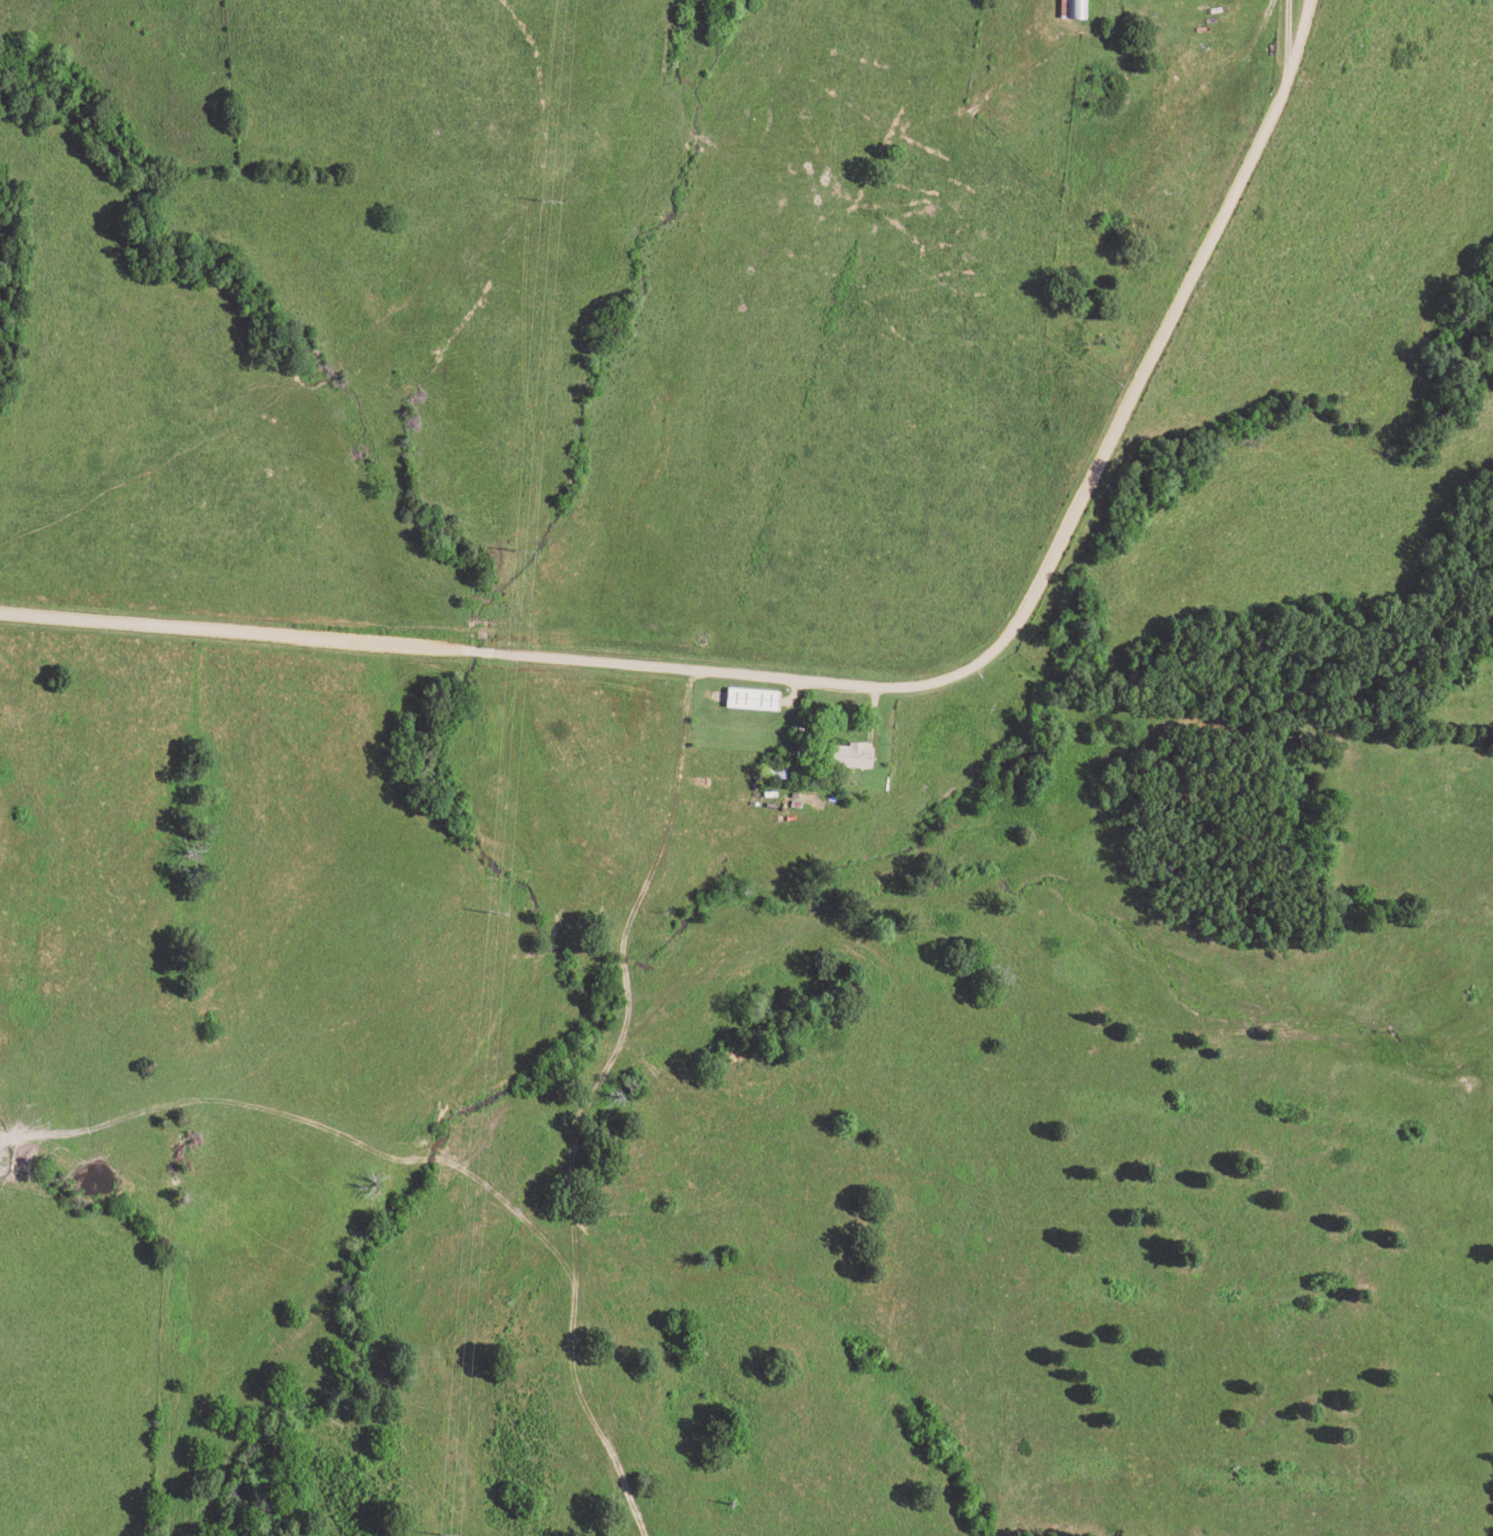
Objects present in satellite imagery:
road: (861, 684)
building: (747, 698)

